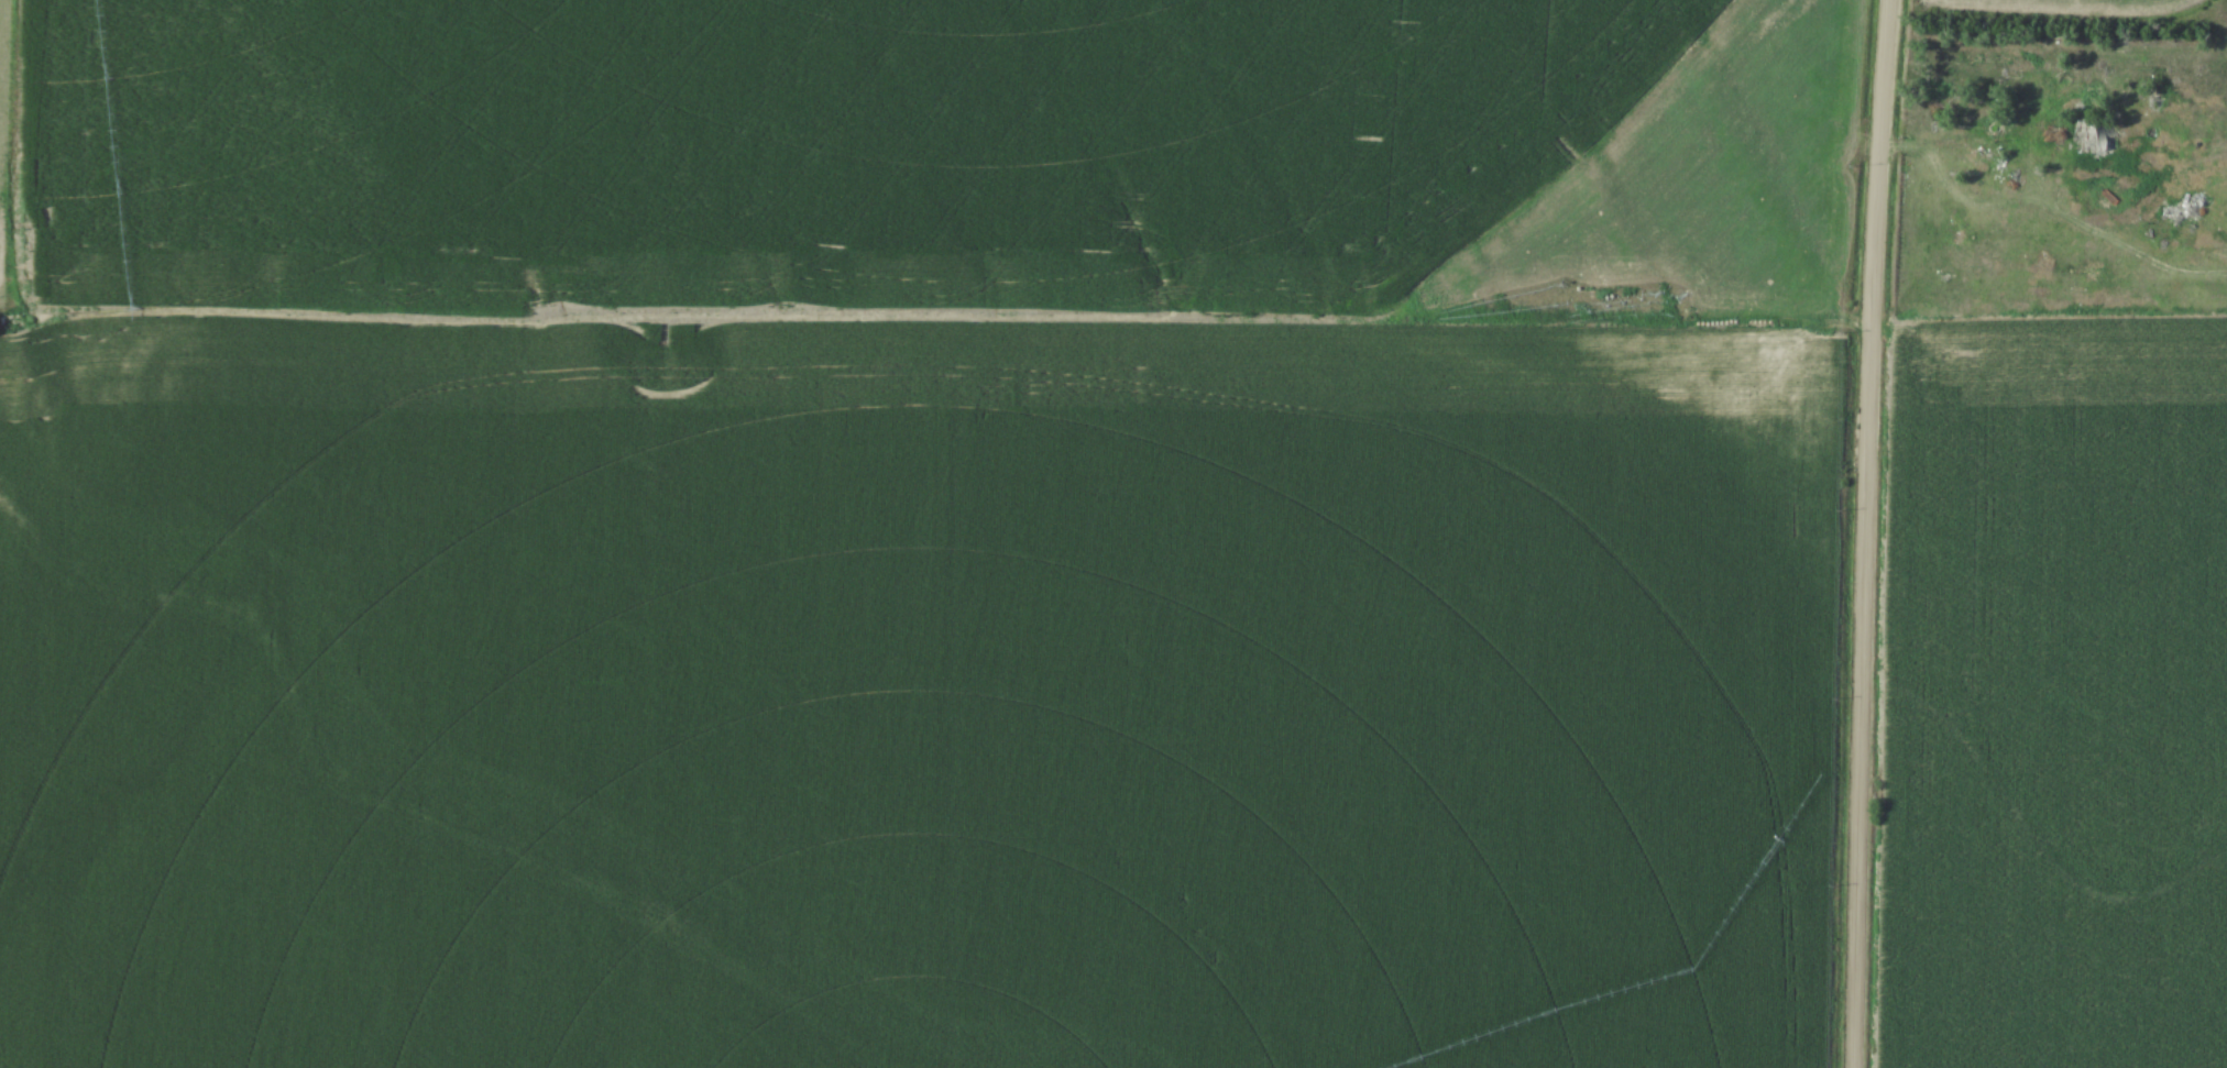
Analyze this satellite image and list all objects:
building: (2094, 139)
road: (1857, 533)

